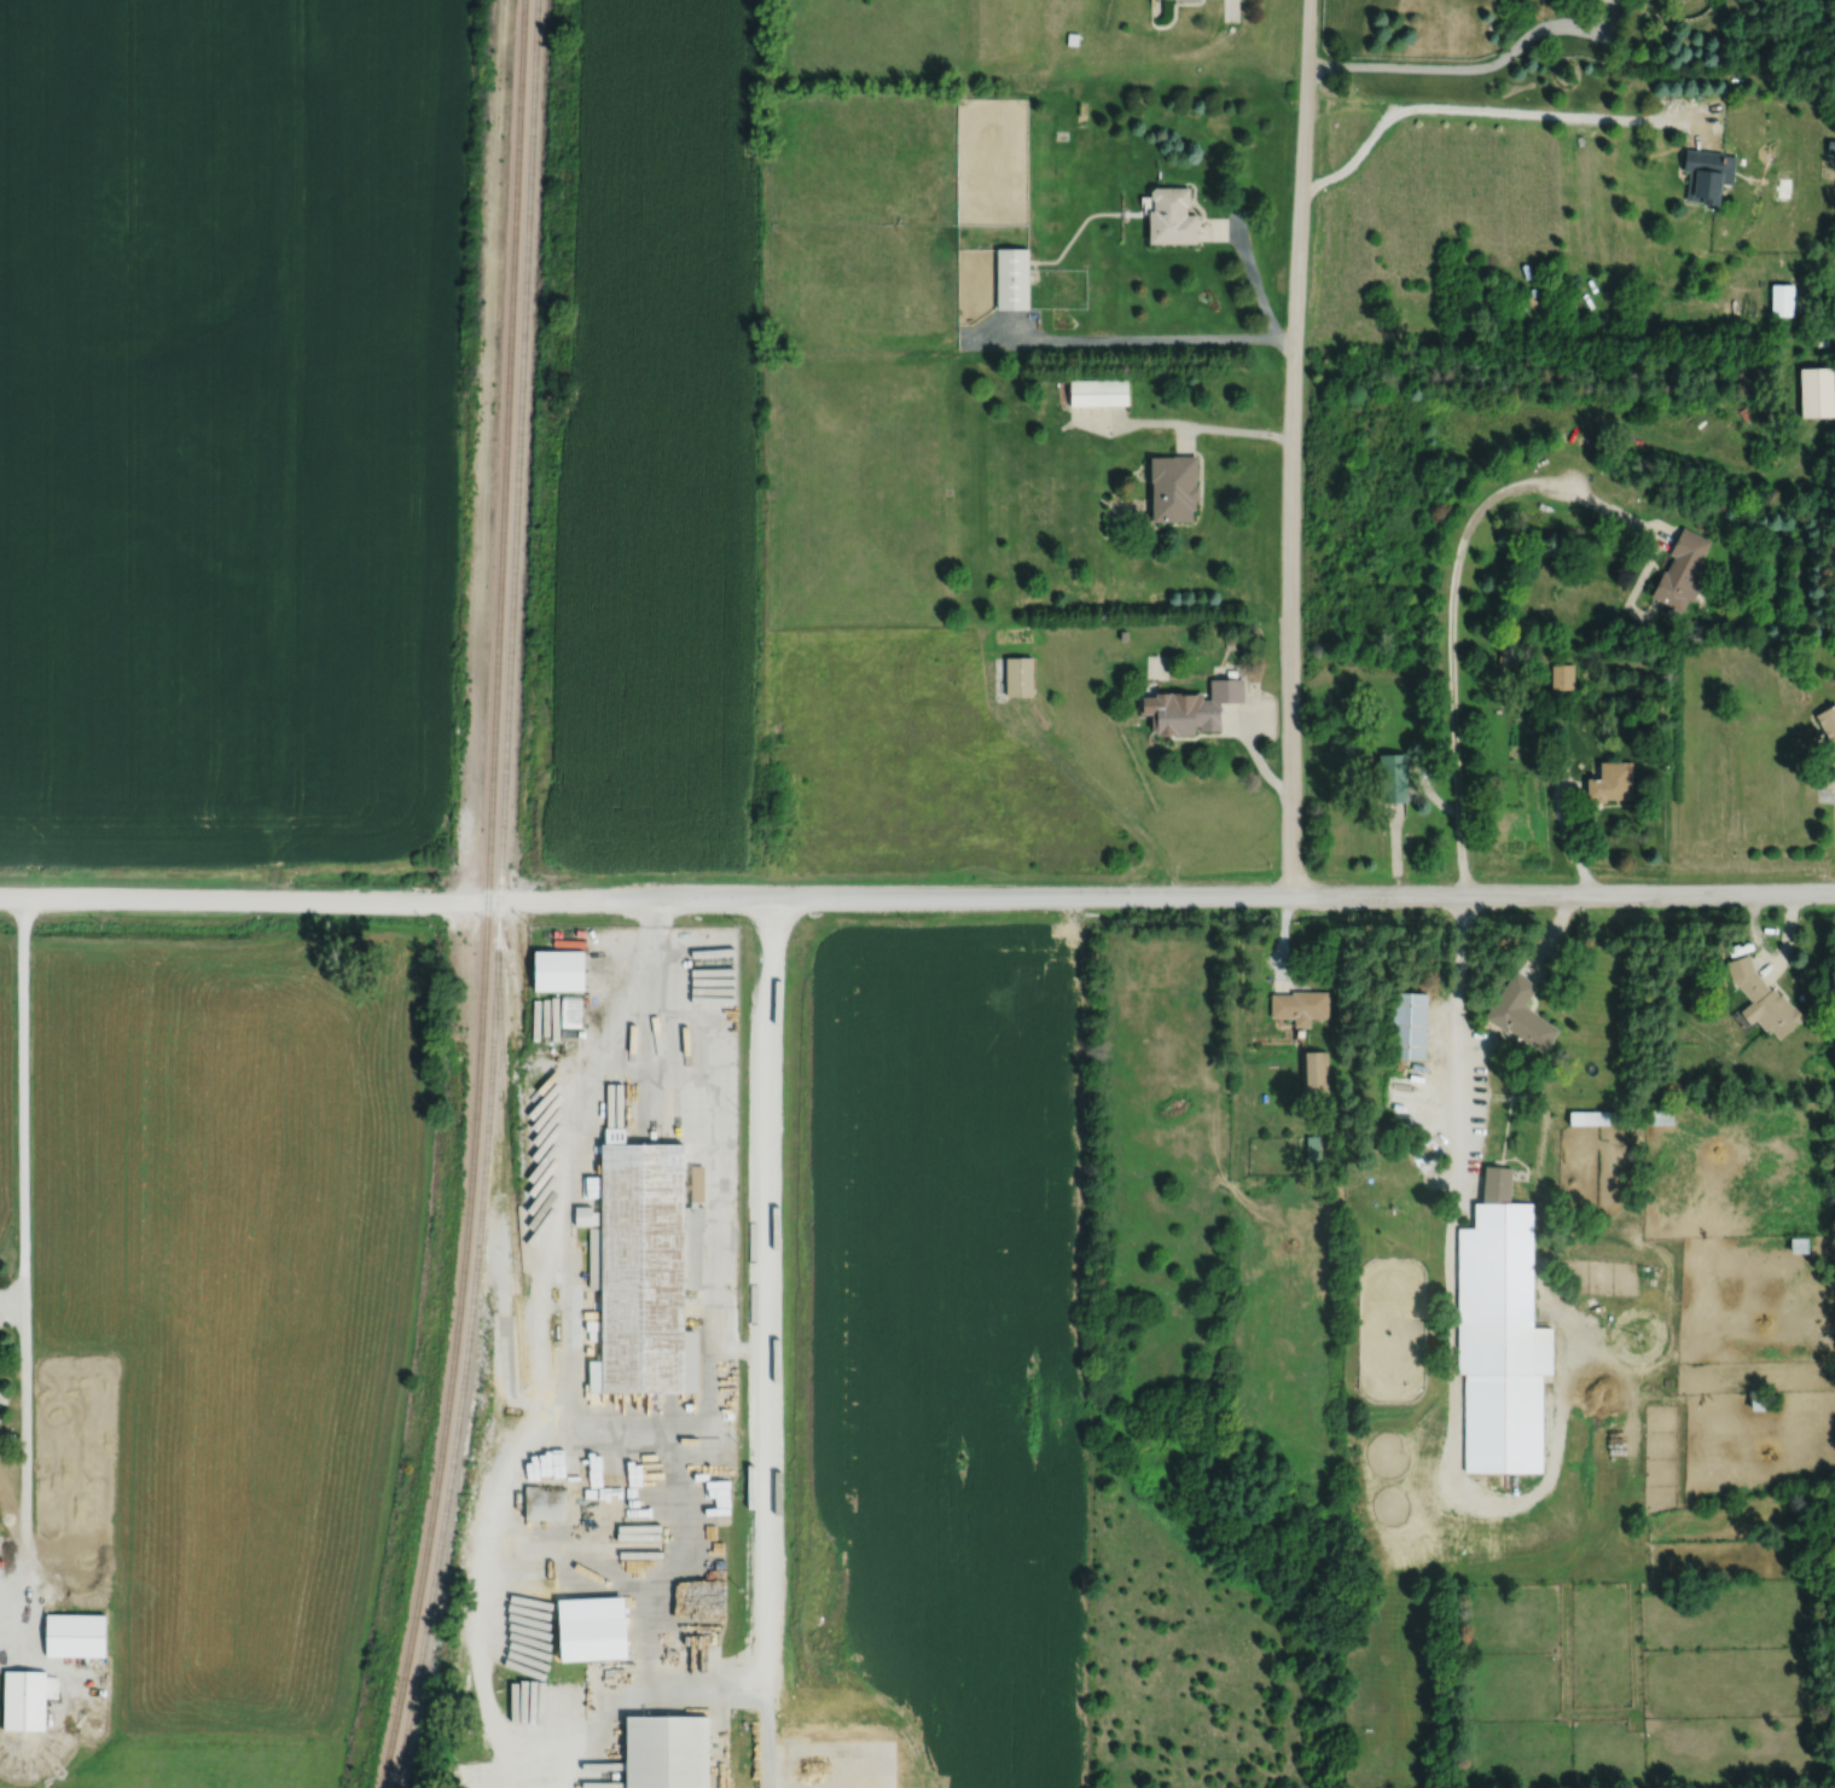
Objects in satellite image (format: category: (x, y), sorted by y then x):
road: (1464, 65)
road: (1516, 121)
building: (1701, 174)
building: (1168, 215)
building: (1010, 278)
building: (1779, 300)
road: (1156, 339)
building: (1813, 391)
building: (1096, 393)
road: (1231, 429)
road: (1294, 449)
building: (1171, 488)
building: (1679, 571)
road: (1456, 605)
building: (1562, 675)
building: (1016, 677)
building: (1191, 708)
building: (1828, 739)
building: (1390, 778)
building: (1609, 782)
road: (1563, 823)
railway: (486, 896)
railway: (497, 896)
road: (917, 902)
building: (719, 951)
building: (553, 970)
building: (1041, 971)
road: (1462, 991)
building: (1761, 999)
building: (1297, 1006)
building: (1518, 1015)
building: (1406, 1024)
building: (1314, 1070)
building: (1657, 1116)
building: (1591, 1117)
railway: (506, 1168)
building: (1796, 1246)
building: (634, 1270)
road: (23, 1281)
building: (1498, 1335)
road: (767, 1346)
road: (1452, 1376)
building: (1760, 1403)
building: (1207, 1406)
building: (583, 1630)
building: (71, 1637)
building: (24, 1700)
building: (662, 1752)

